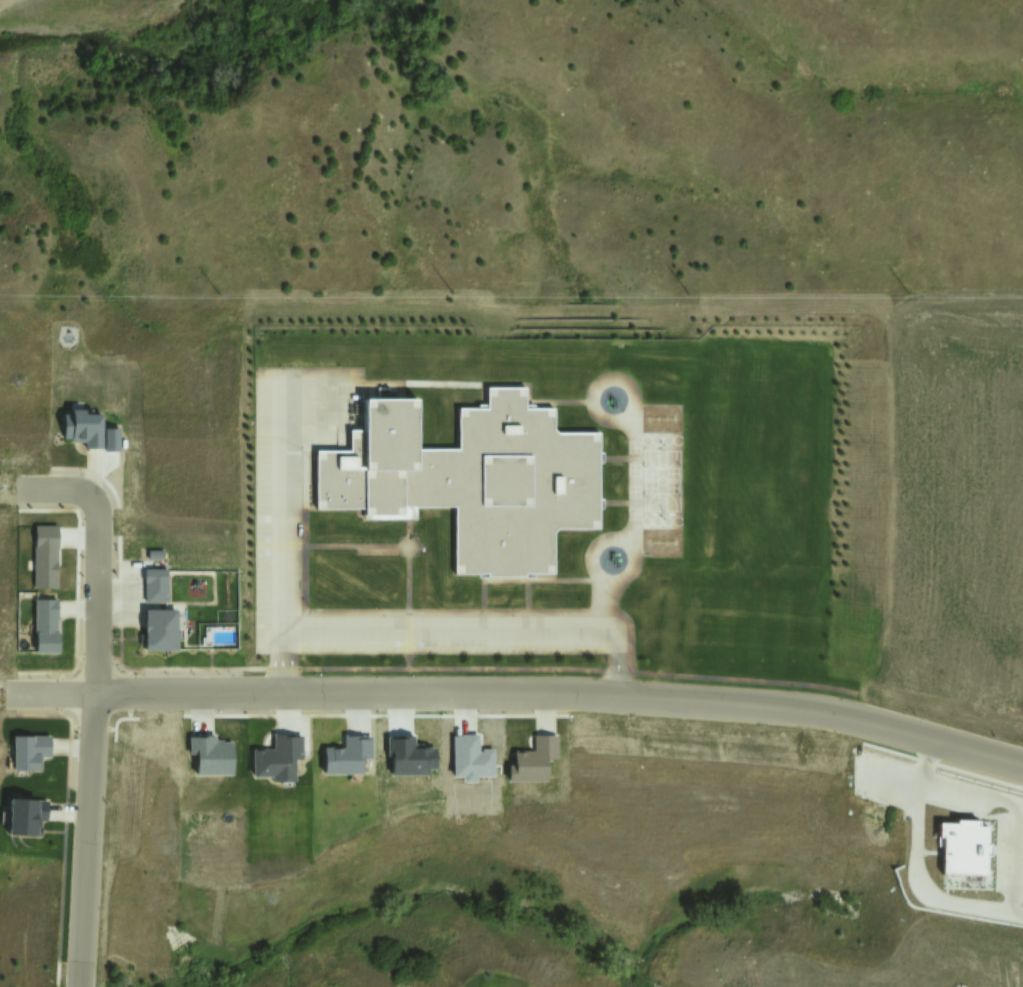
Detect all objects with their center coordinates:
building: (85, 430)
building: (113, 440)
road: (634, 469)
building: (474, 482)
park: (660, 488)
parking lot: (271, 519)
road: (283, 532)
road: (348, 551)
road: (595, 552)
building: (43, 559)
road: (412, 570)
road: (562, 575)
building: (155, 588)
road: (536, 603)
road: (487, 606)
building: (44, 626)
building: (161, 630)
road: (446, 631)
parking lot: (460, 635)
road: (519, 693)
road: (89, 704)
building: (30, 753)
building: (347, 756)
building: (211, 758)
building: (278, 759)
building: (532, 763)
building: (24, 817)
building: (967, 848)

